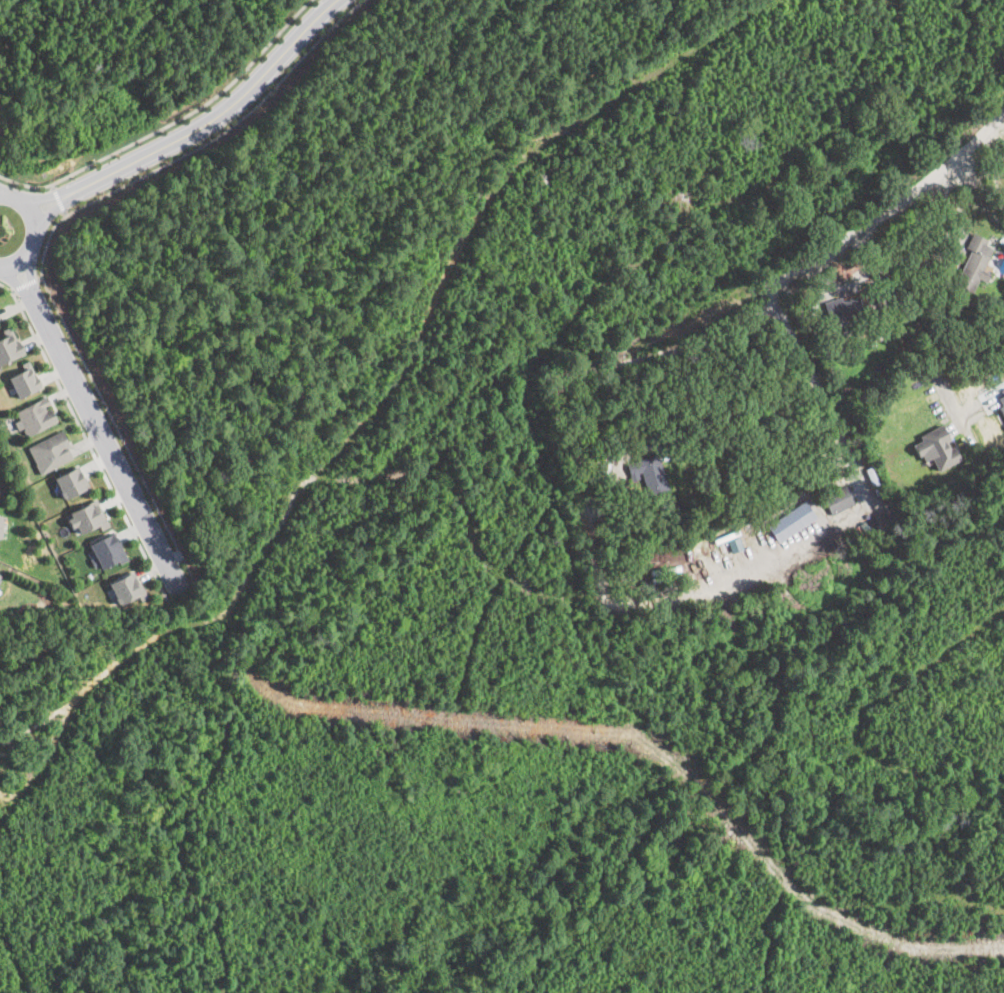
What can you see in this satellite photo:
road: (170, 122)
road: (196, 126)
road: (59, 199)
road: (892, 208)
road: (34, 229)
road: (51, 230)
building: (974, 263)
road: (25, 283)
building: (842, 306)
road: (915, 321)
building: (9, 346)
building: (23, 379)
building: (1001, 402)
building: (35, 415)
road: (97, 426)
road: (87, 440)
building: (936, 447)
building: (51, 450)
road: (704, 451)
building: (649, 472)
building: (71, 481)
building: (838, 499)
building: (85, 517)
building: (791, 520)
building: (1, 527)
building: (106, 550)
building: (0, 574)
building: (125, 589)
road: (639, 604)

